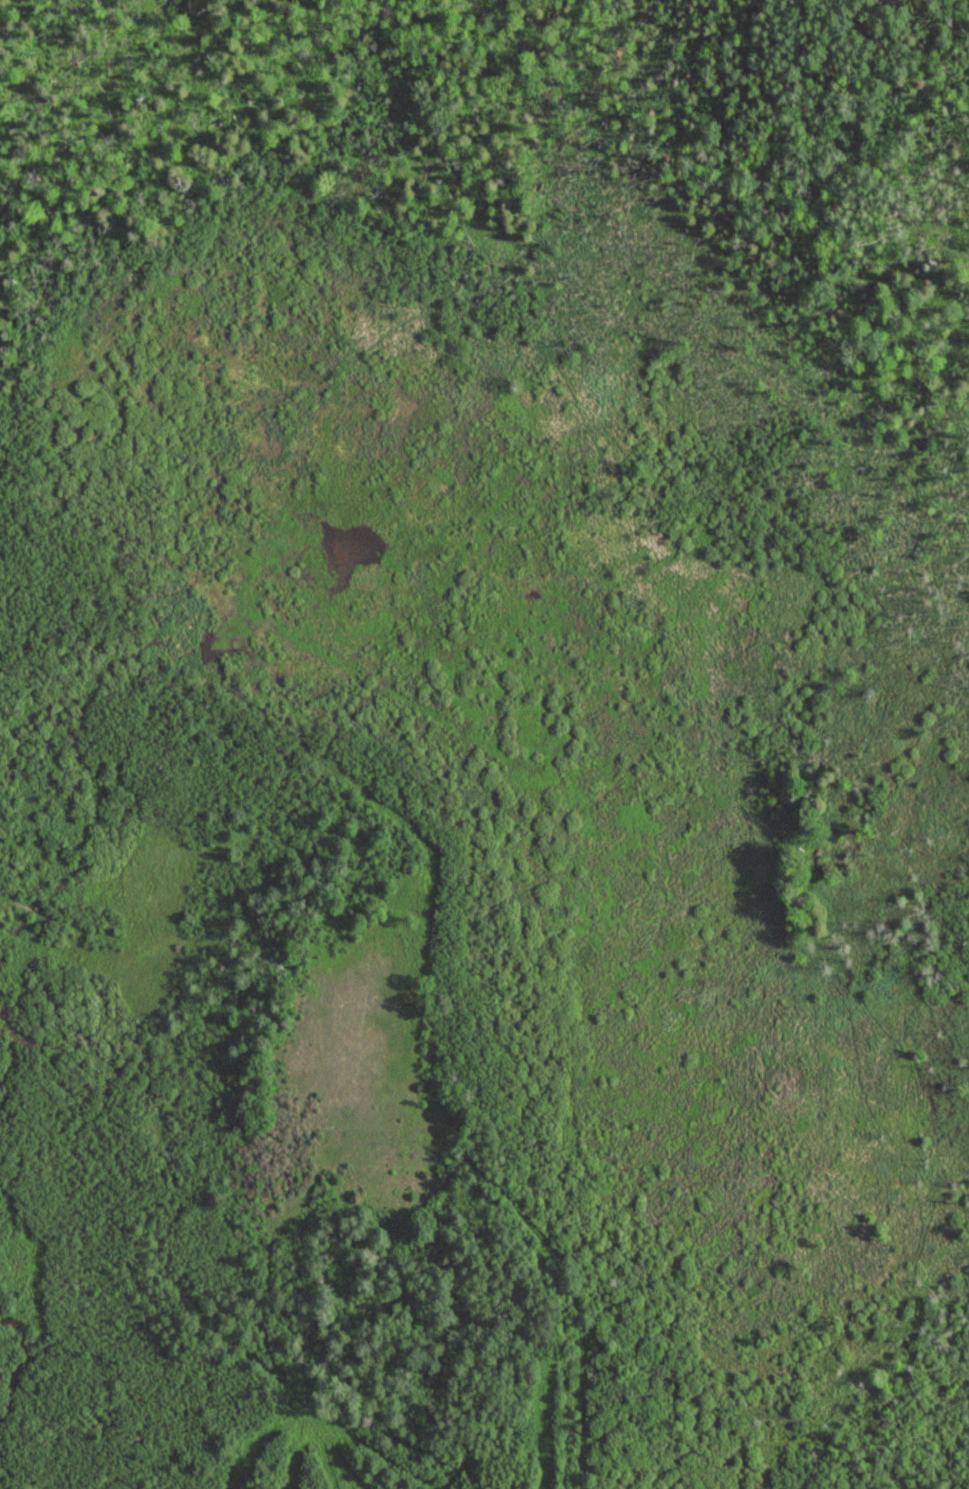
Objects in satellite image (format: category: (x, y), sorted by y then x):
road: (541, 1247)
river: (22, 1363)

